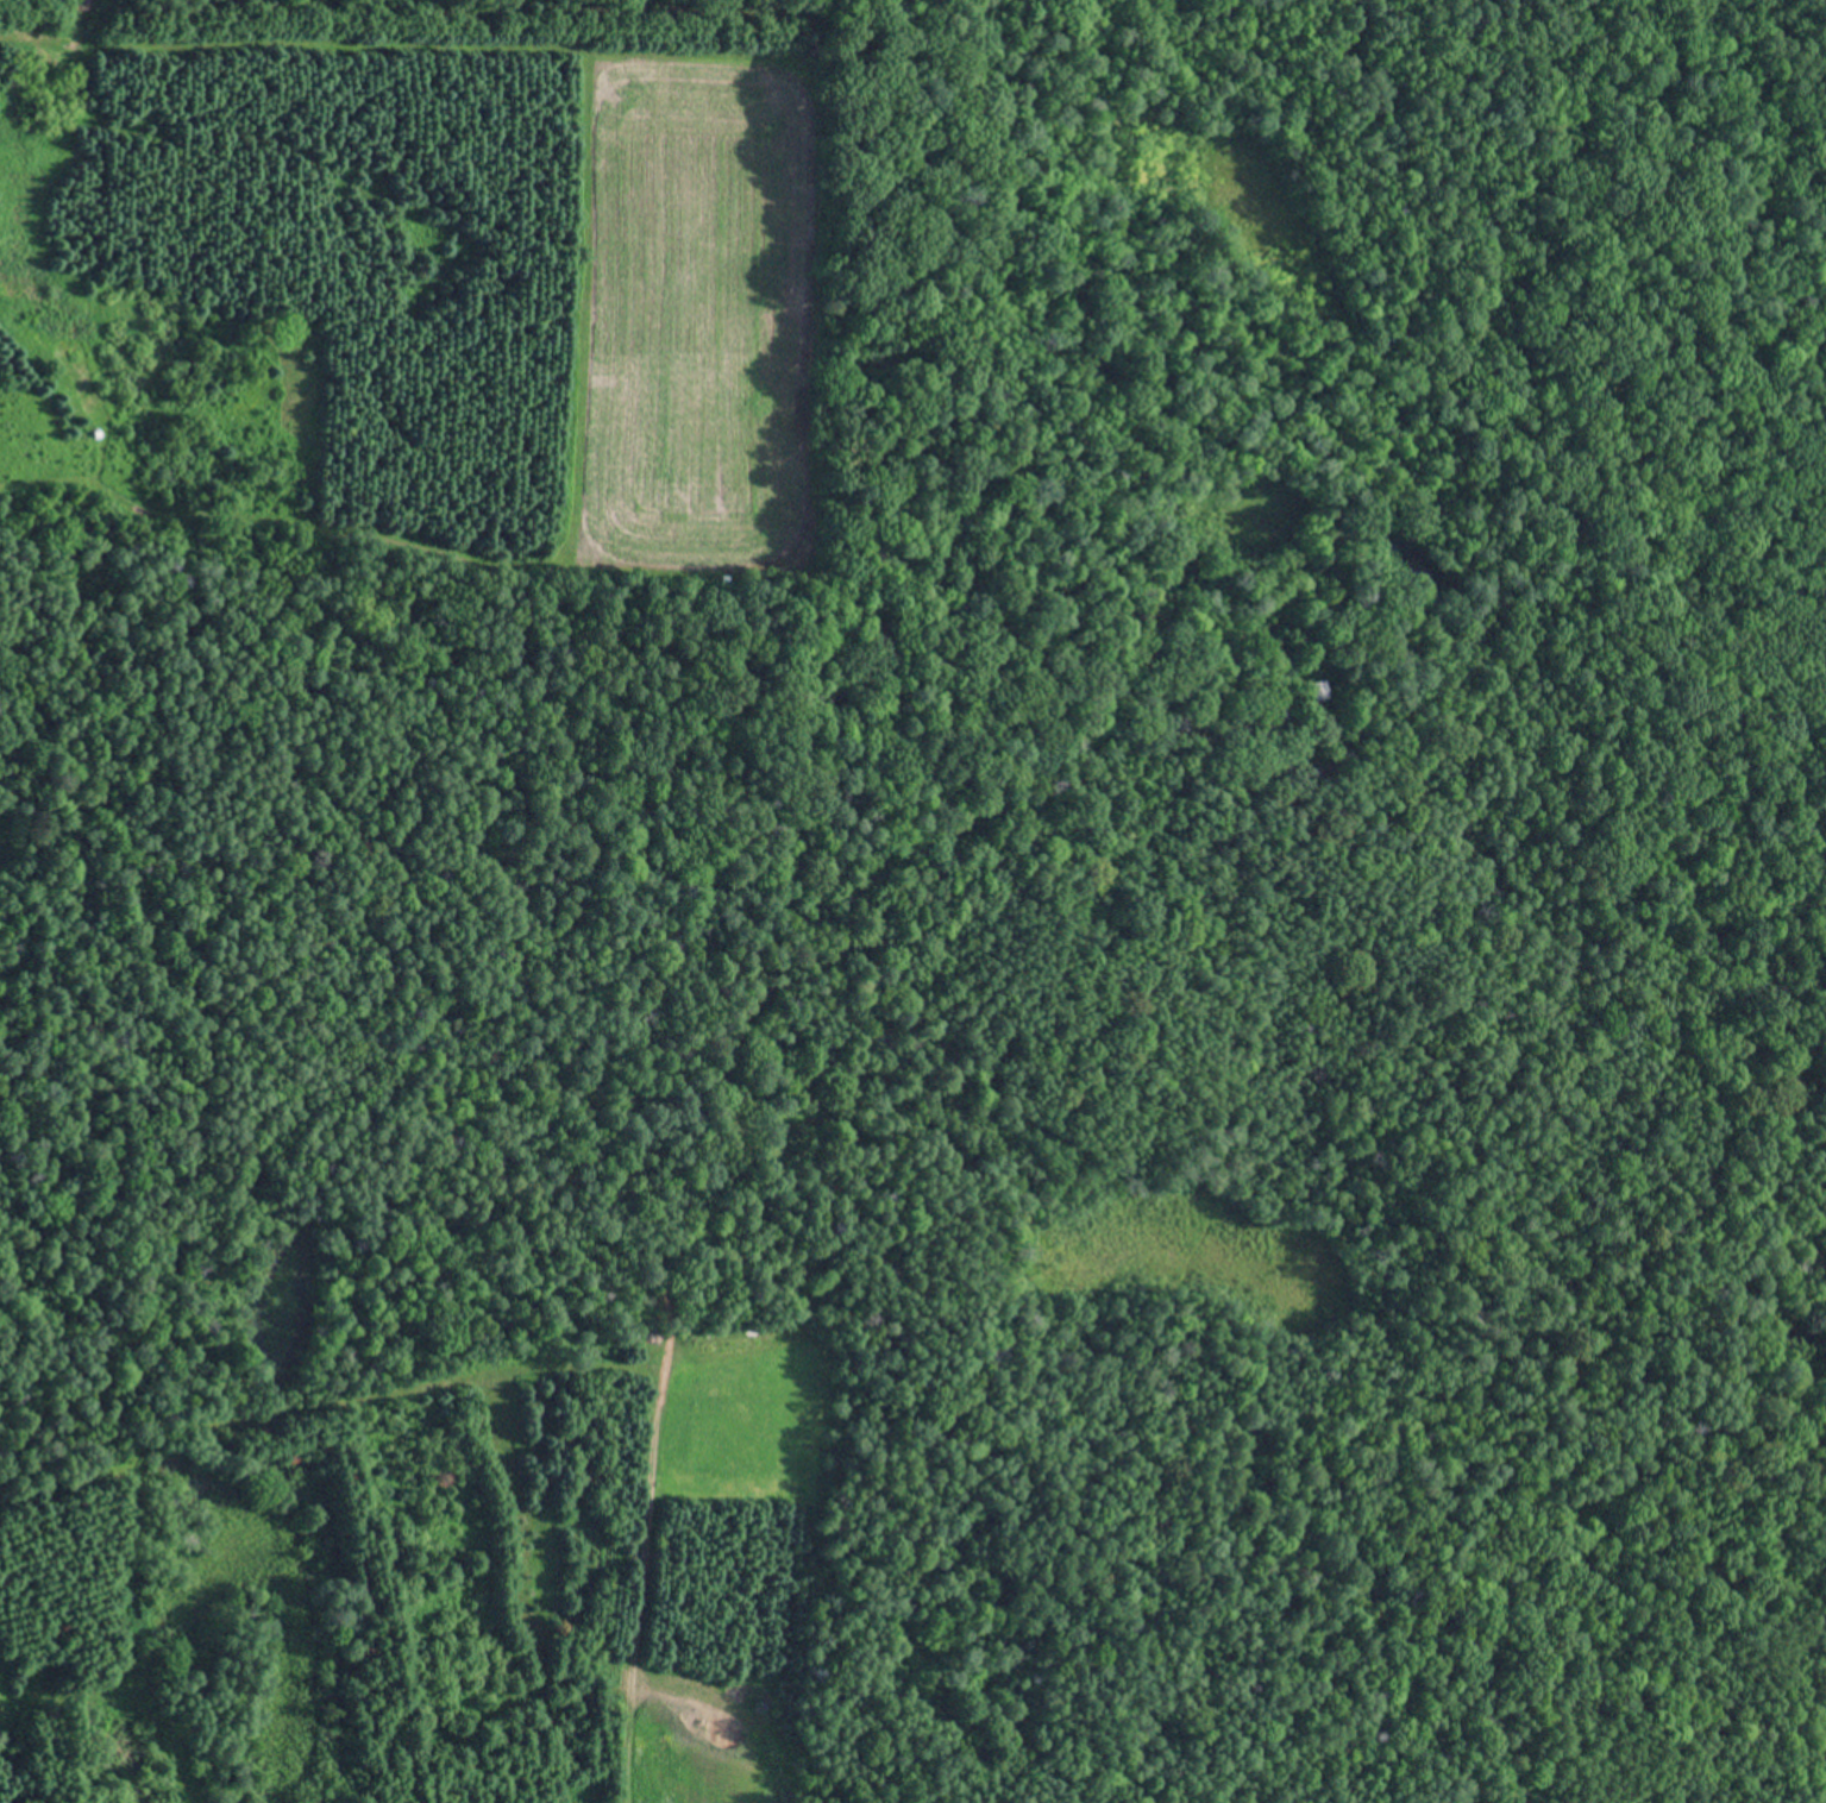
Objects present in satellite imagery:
building: (1268, 717)

